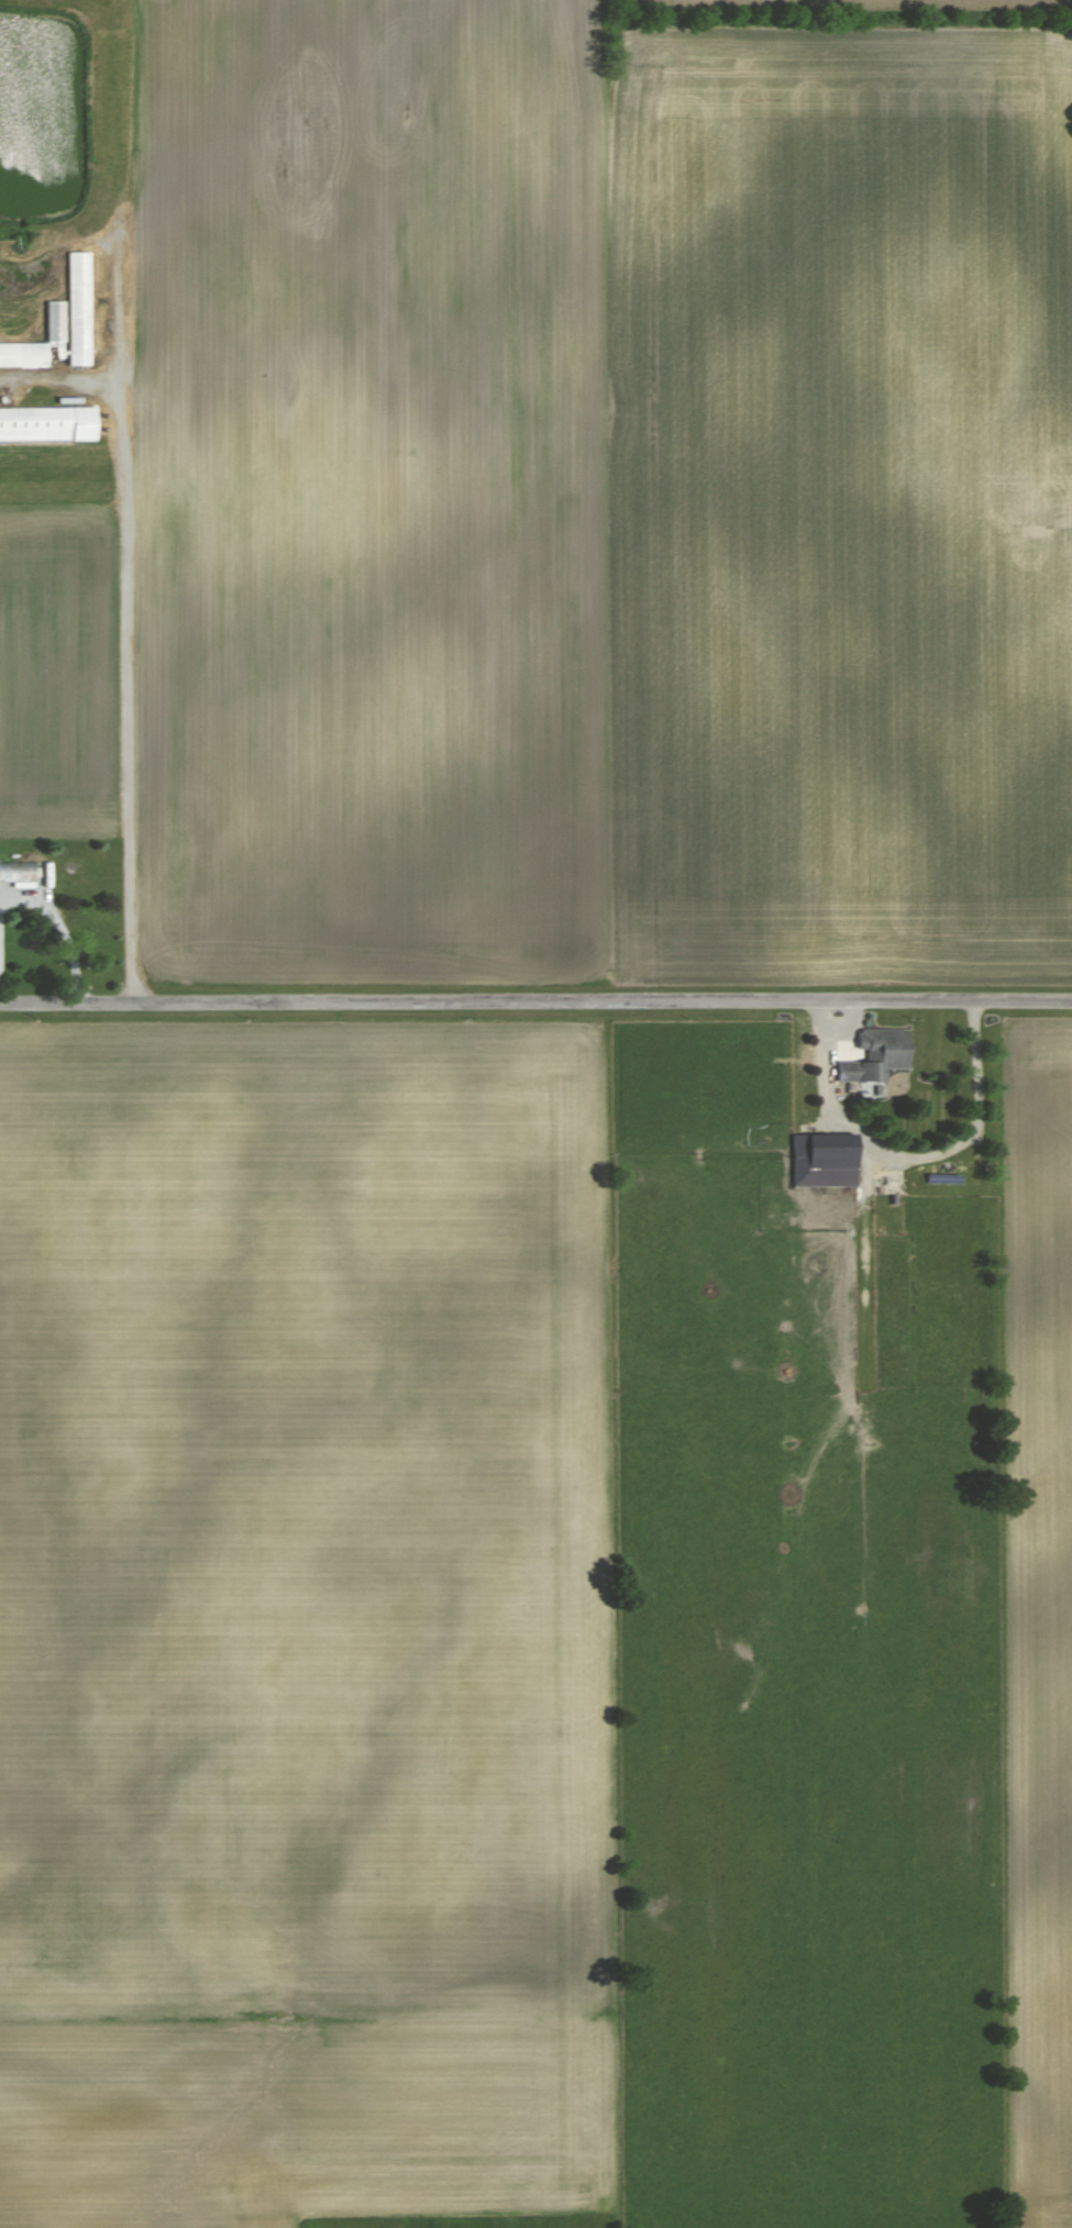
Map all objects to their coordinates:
building: (79, 307)
building: (38, 342)
building: (47, 422)
road: (135, 631)
building: (18, 873)
road: (31, 884)
road: (535, 1002)
building: (876, 1054)
building: (824, 1159)
road: (913, 1159)
building: (893, 1182)

